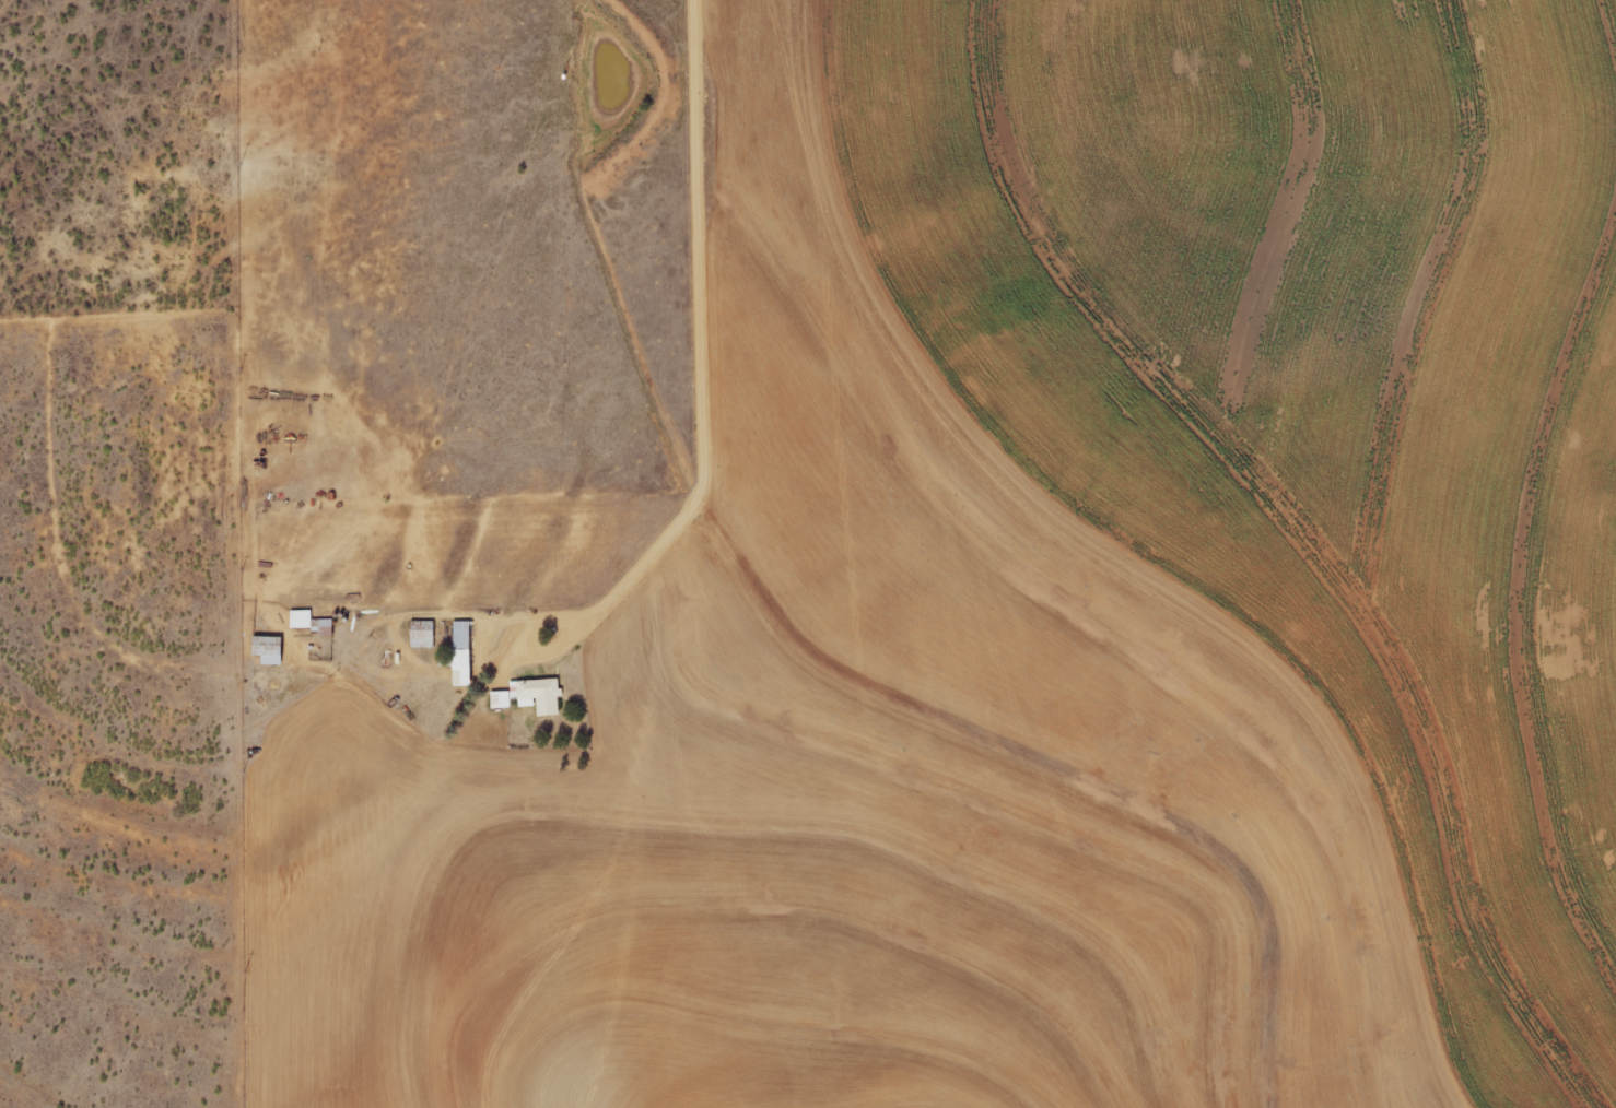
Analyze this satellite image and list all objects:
road: (716, 345)
building: (311, 622)
building: (422, 634)
building: (268, 649)
building: (460, 652)
building: (530, 695)

